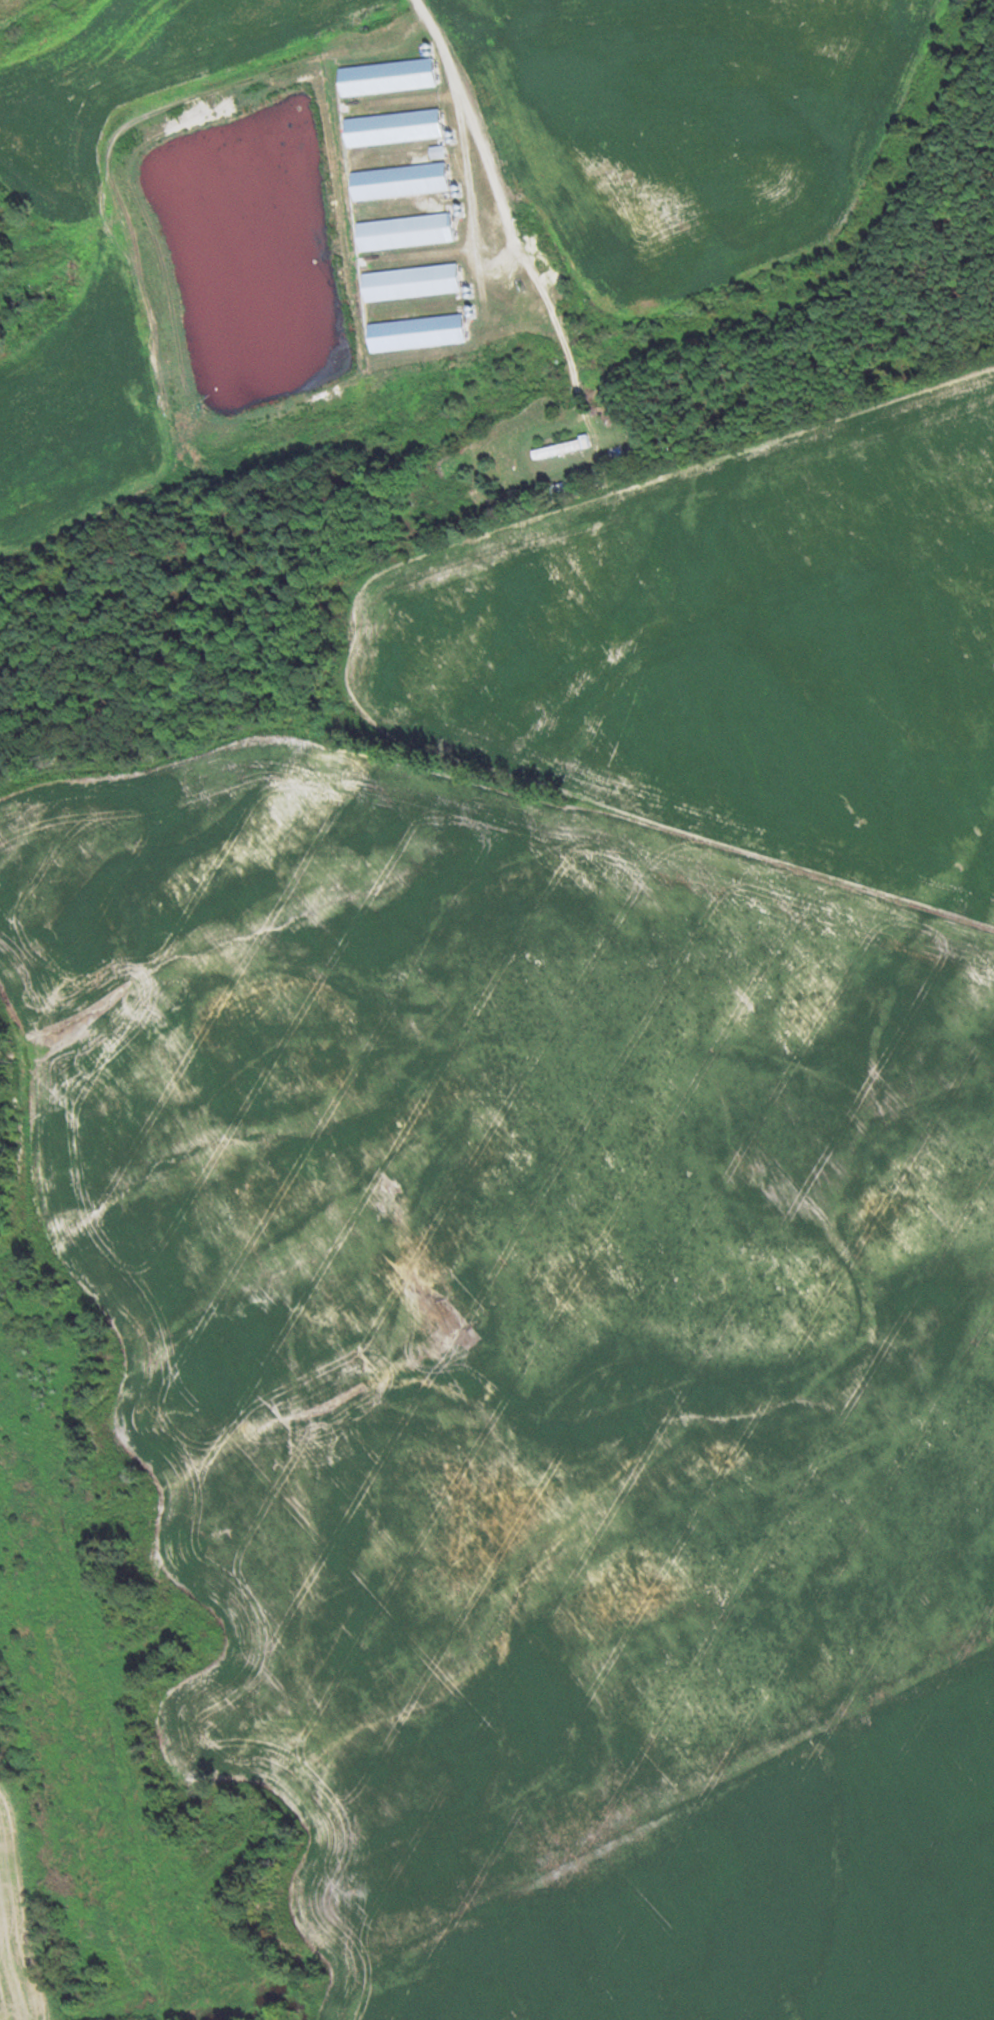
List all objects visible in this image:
building: (386, 77)
building: (392, 128)
building: (436, 151)
building: (398, 182)
road: (512, 215)
building: (403, 232)
building: (408, 282)
building: (413, 333)
building: (558, 449)

